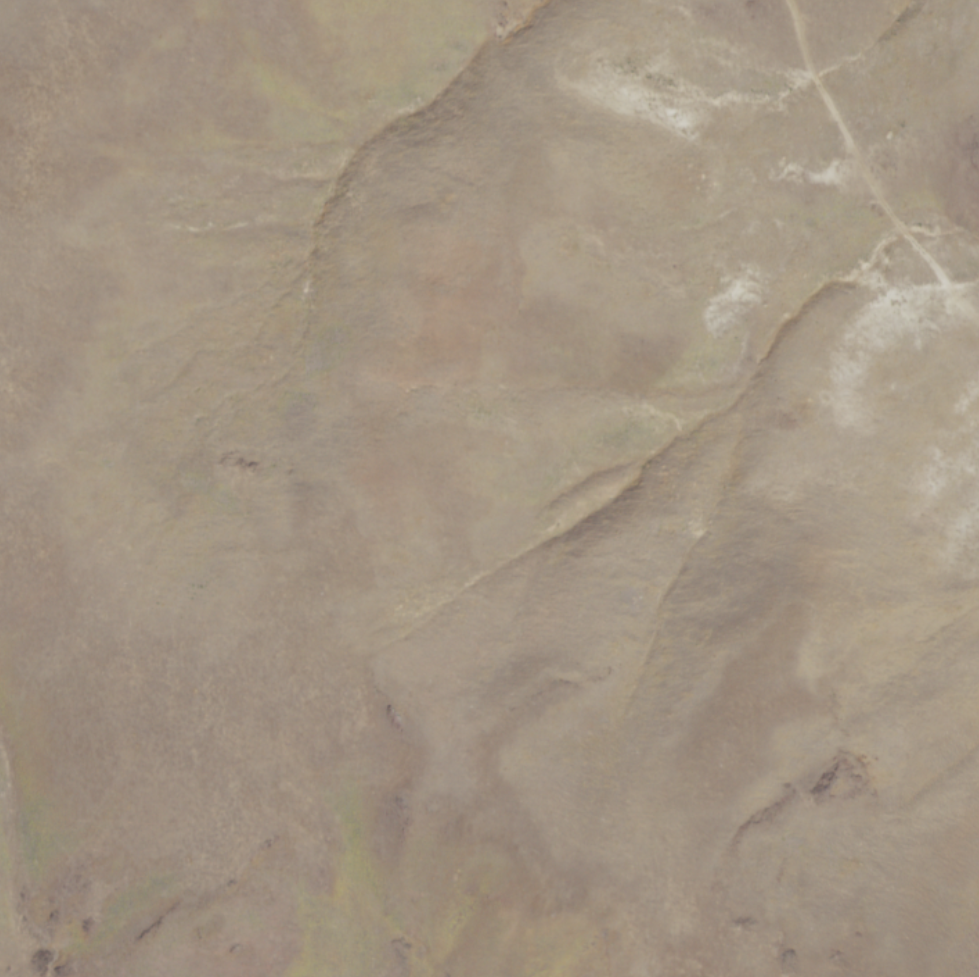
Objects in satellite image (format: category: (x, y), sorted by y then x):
road: (864, 172)

